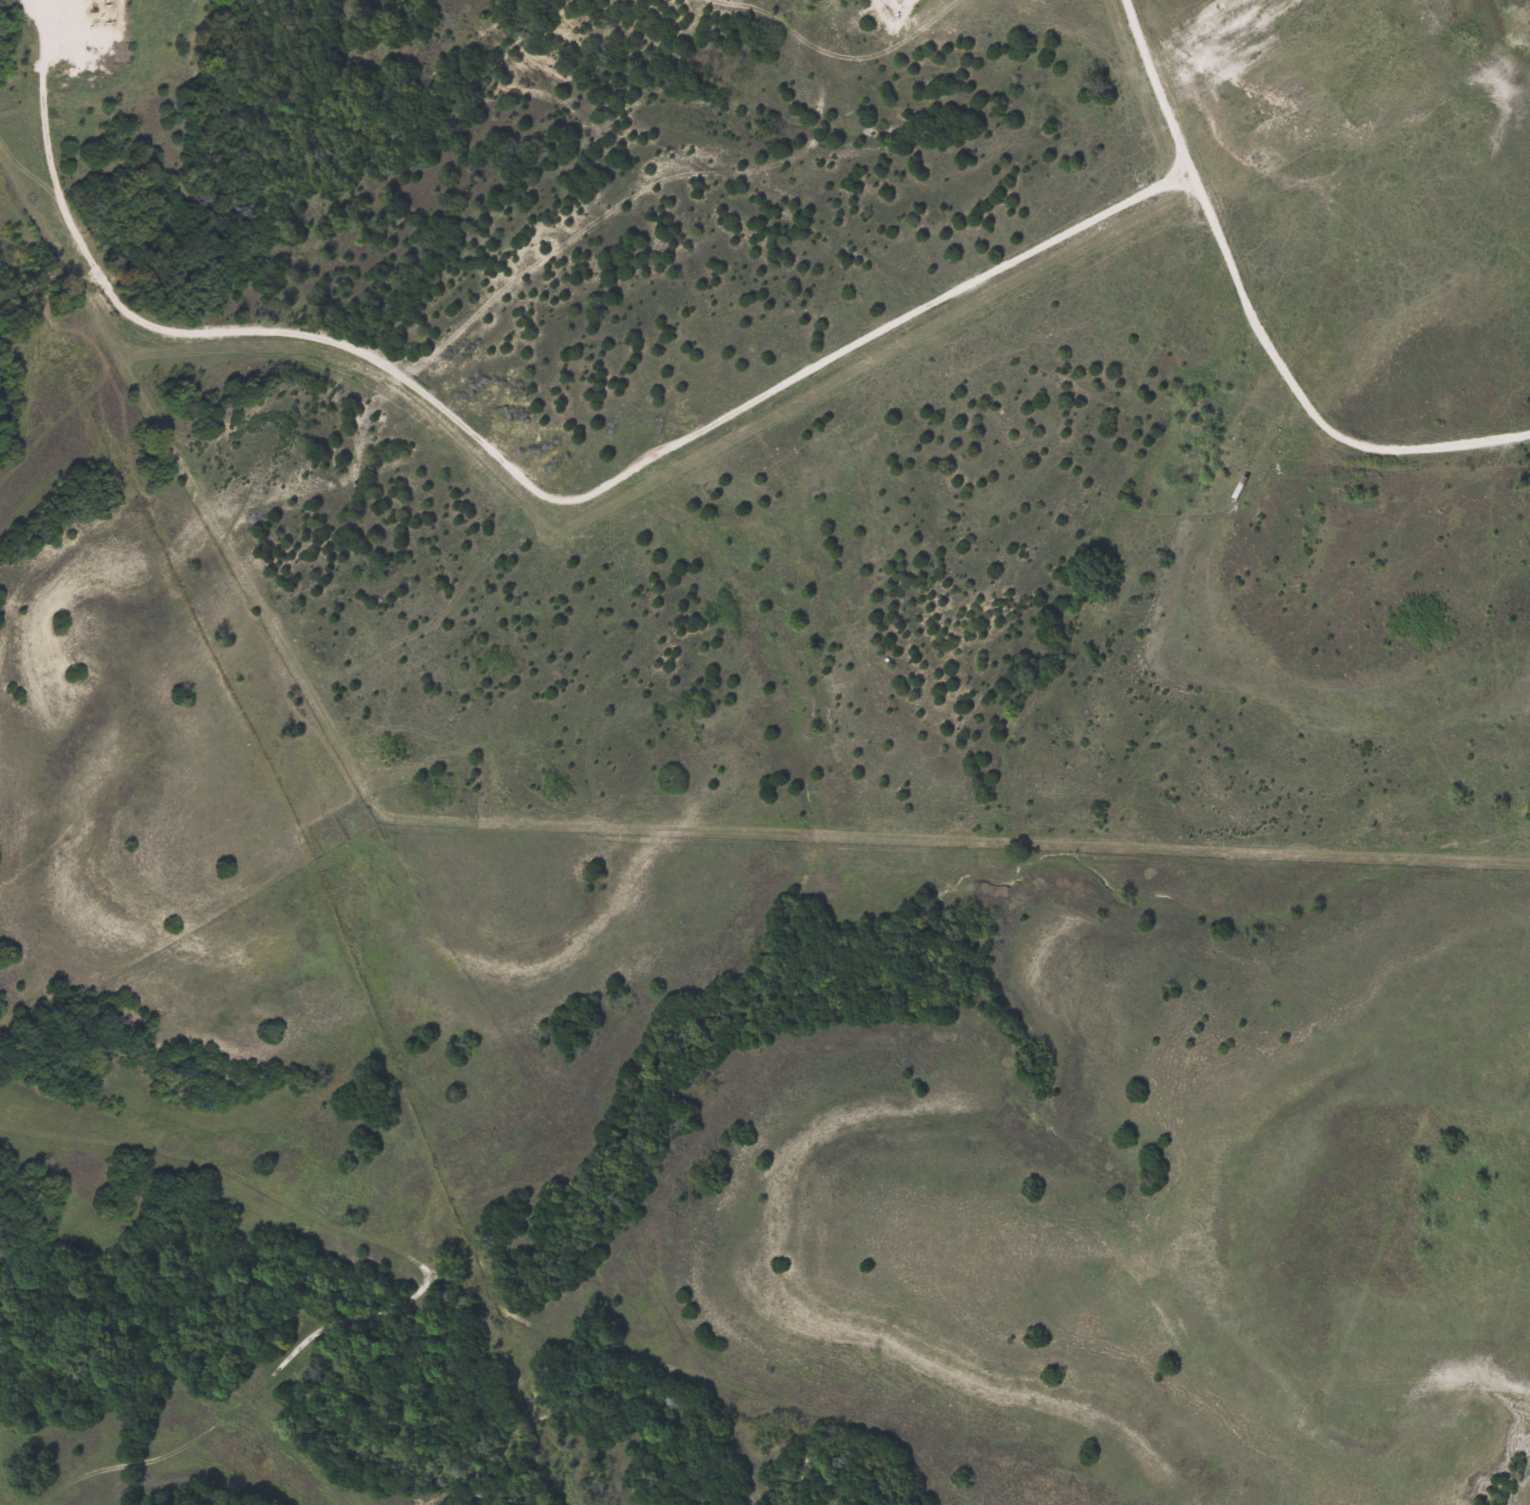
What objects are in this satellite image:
road: (1214, 227)
road: (1392, 446)
road: (532, 483)

